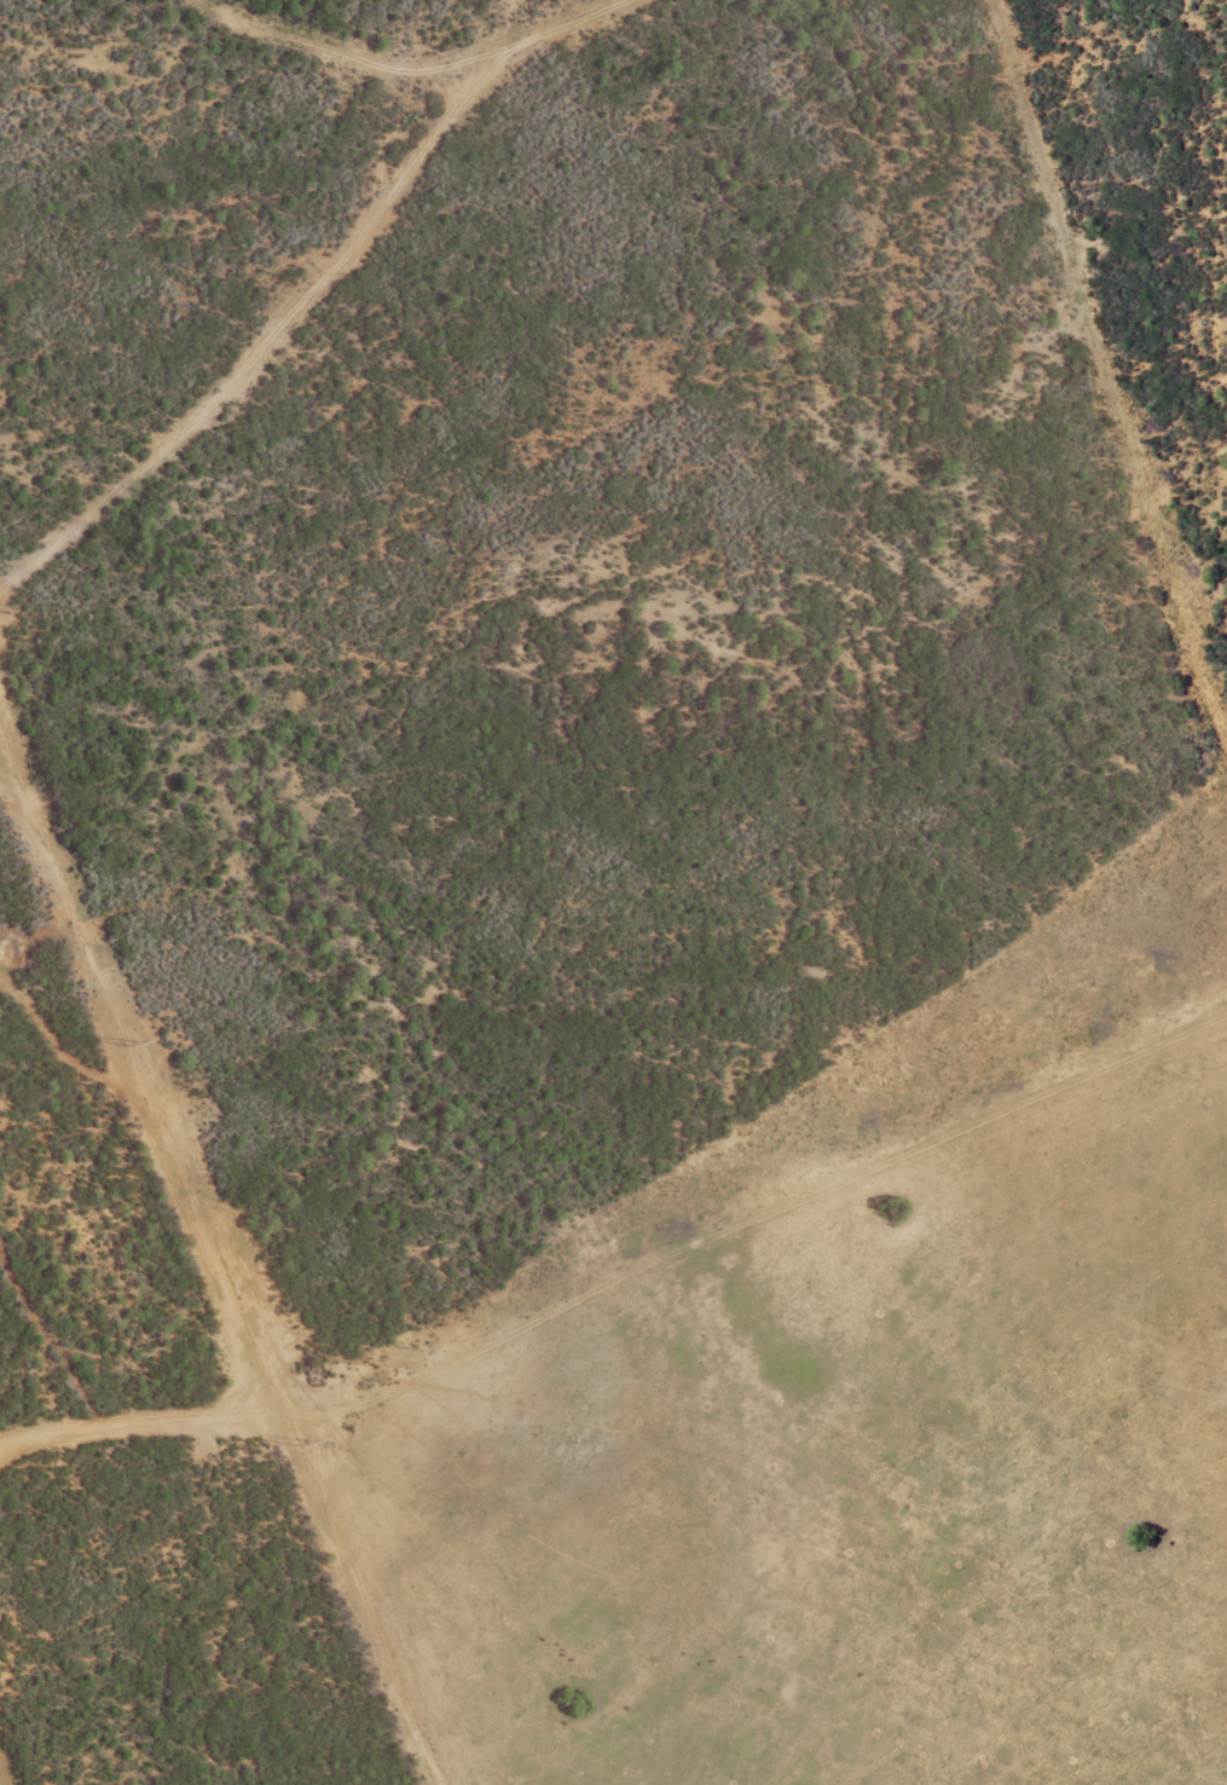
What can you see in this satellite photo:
road: (422, 76)
power tower: (129, 1045)
power tower: (299, 1445)

